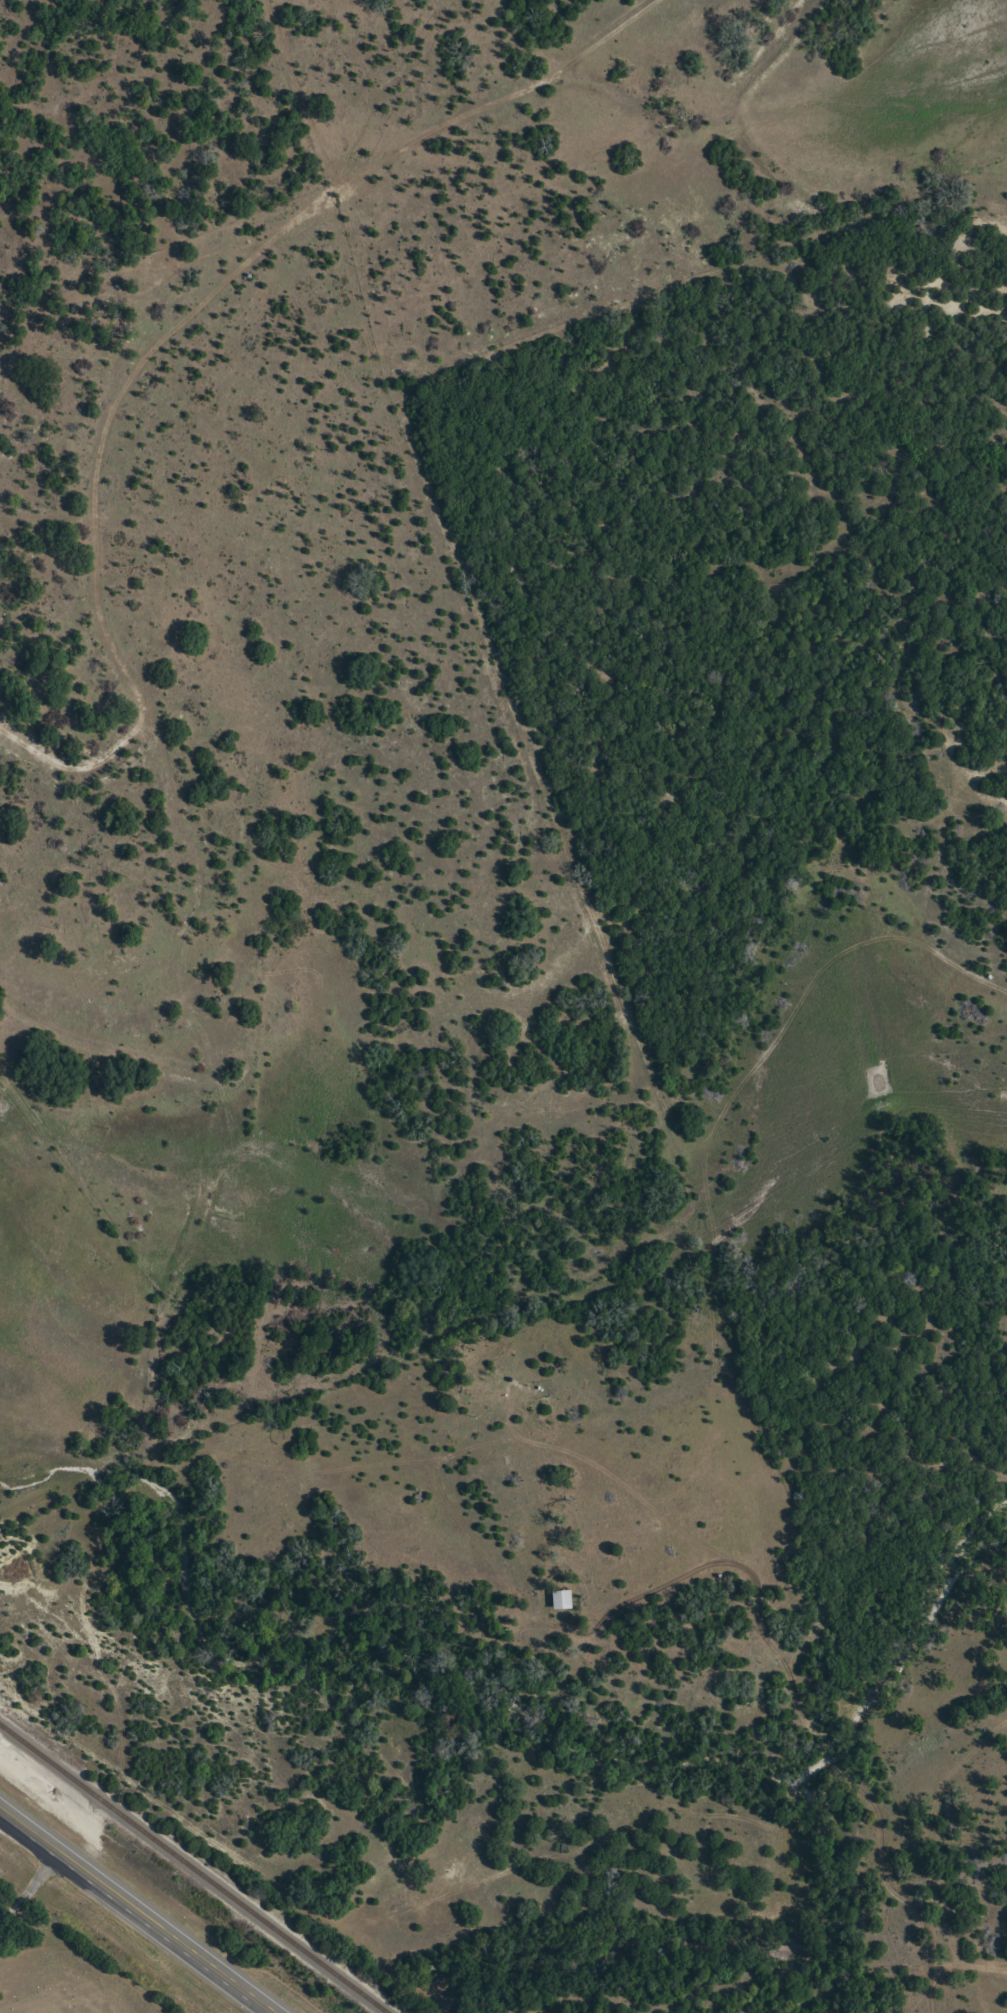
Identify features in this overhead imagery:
building: (561, 1598)
railway: (193, 1869)
road: (141, 1908)

